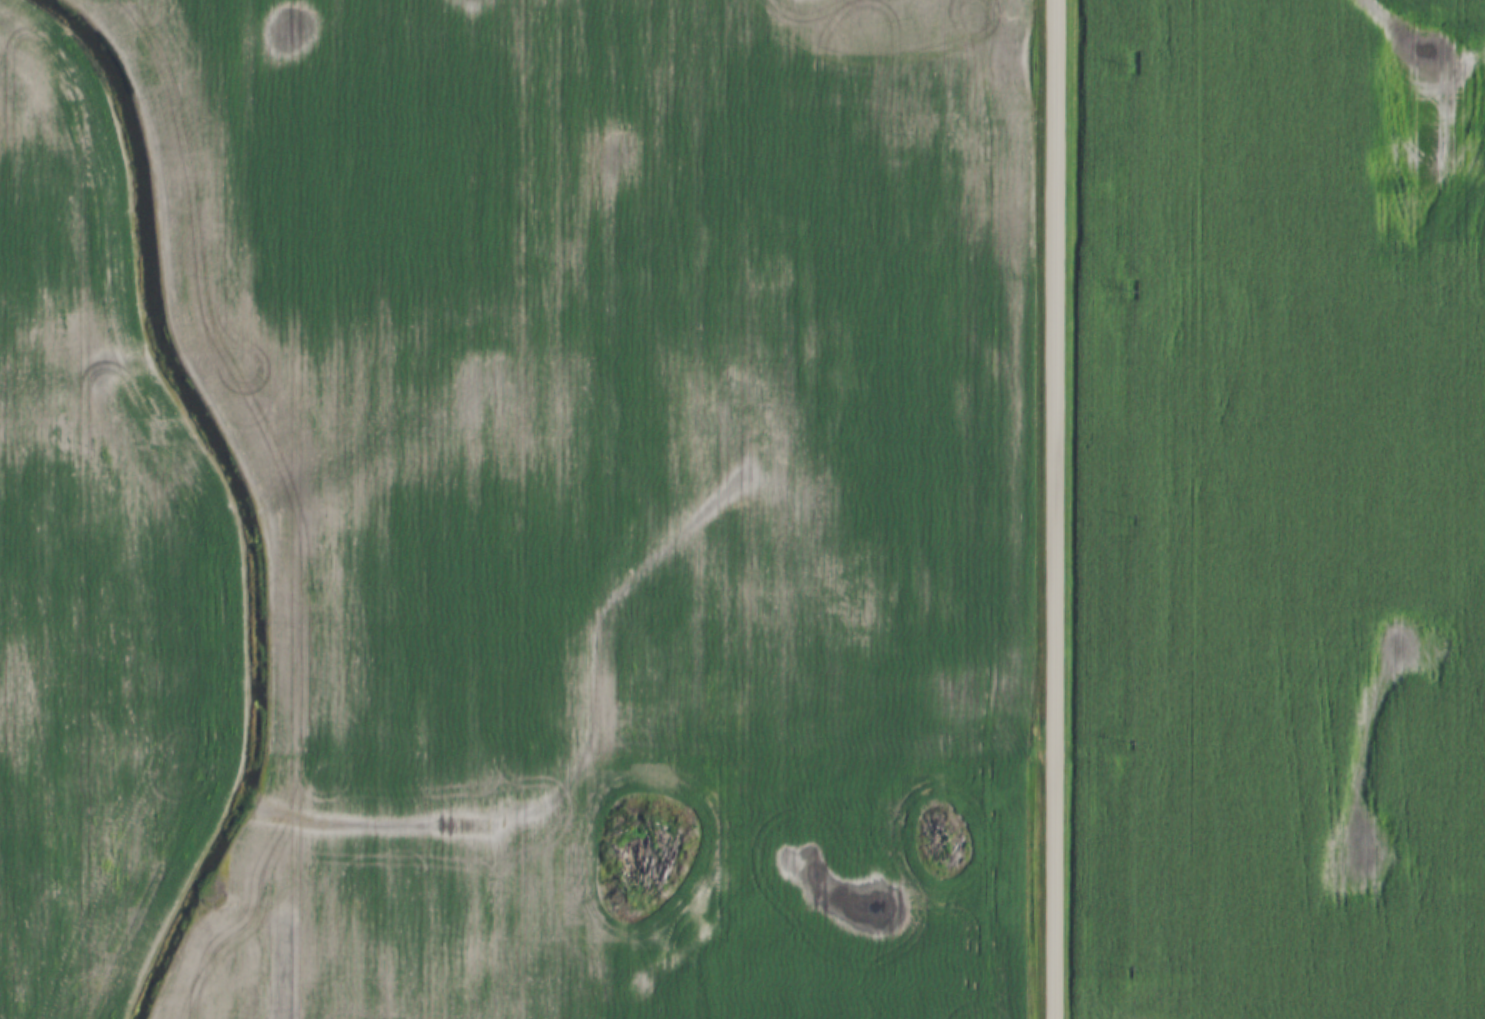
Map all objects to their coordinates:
road: (1054, 509)

